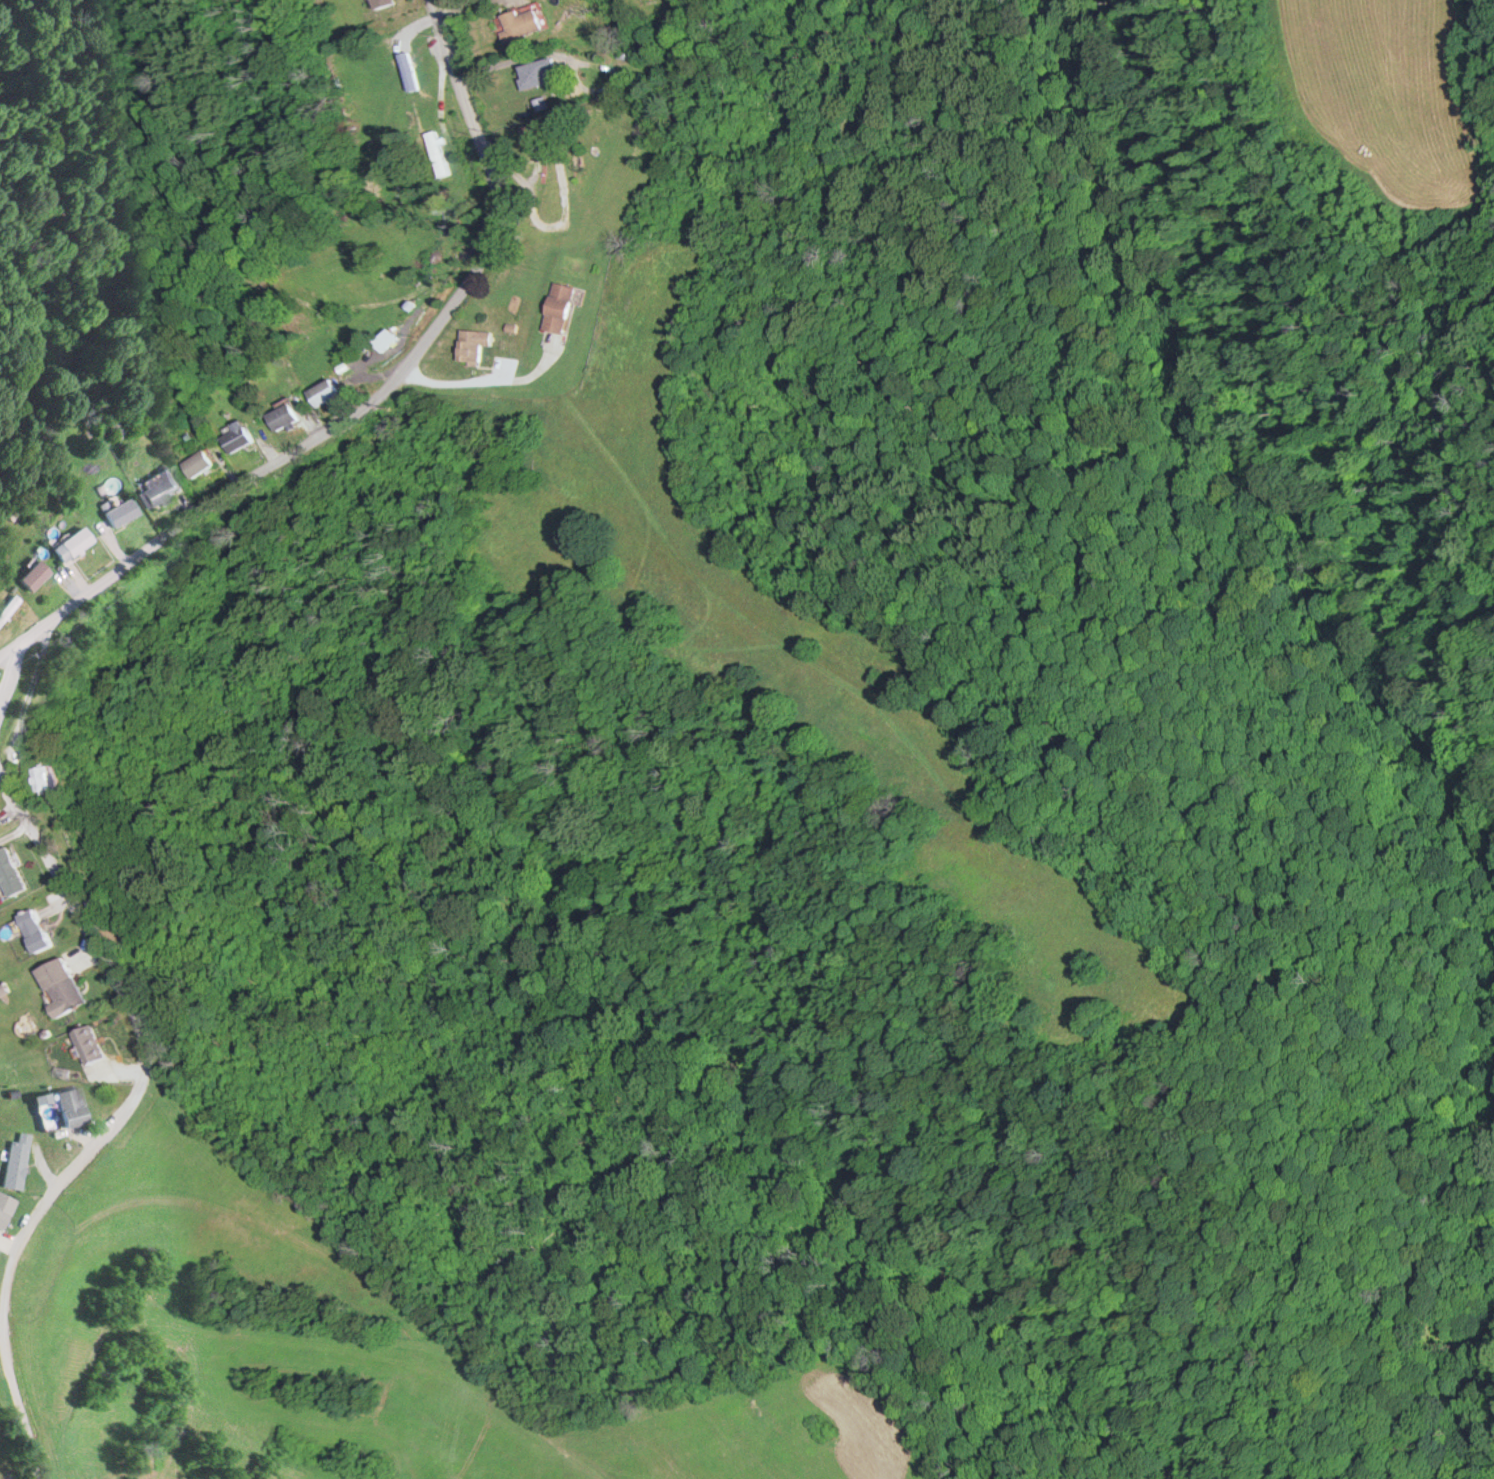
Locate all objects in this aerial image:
building: (385, 3)
building: (522, 23)
building: (541, 73)
building: (437, 154)
building: (560, 308)
building: (473, 345)
building: (326, 393)
road: (374, 398)
building: (285, 416)
building: (115, 425)
building: (238, 436)
building: (198, 464)
building: (156, 486)
building: (117, 512)
building: (71, 543)
building: (31, 574)
building: (8, 605)
road: (9, 669)
building: (45, 776)
building: (10, 872)
building: (35, 929)
building: (64, 983)
building: (90, 1042)
building: (68, 1104)
road: (116, 1115)
building: (16, 1160)
building: (3, 1204)

